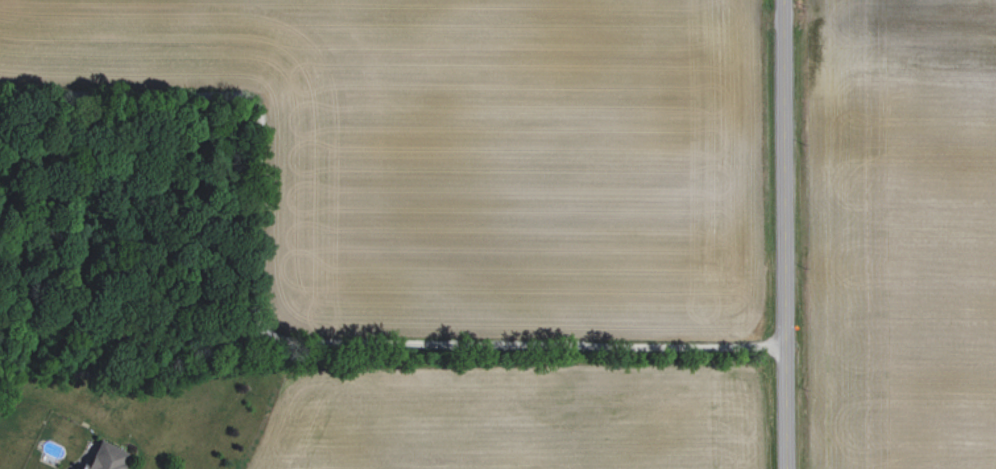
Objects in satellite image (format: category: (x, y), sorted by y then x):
crop: (475, 156)
crop: (899, 233)
road: (785, 234)
road: (279, 336)
crop: (510, 407)
building: (107, 457)

